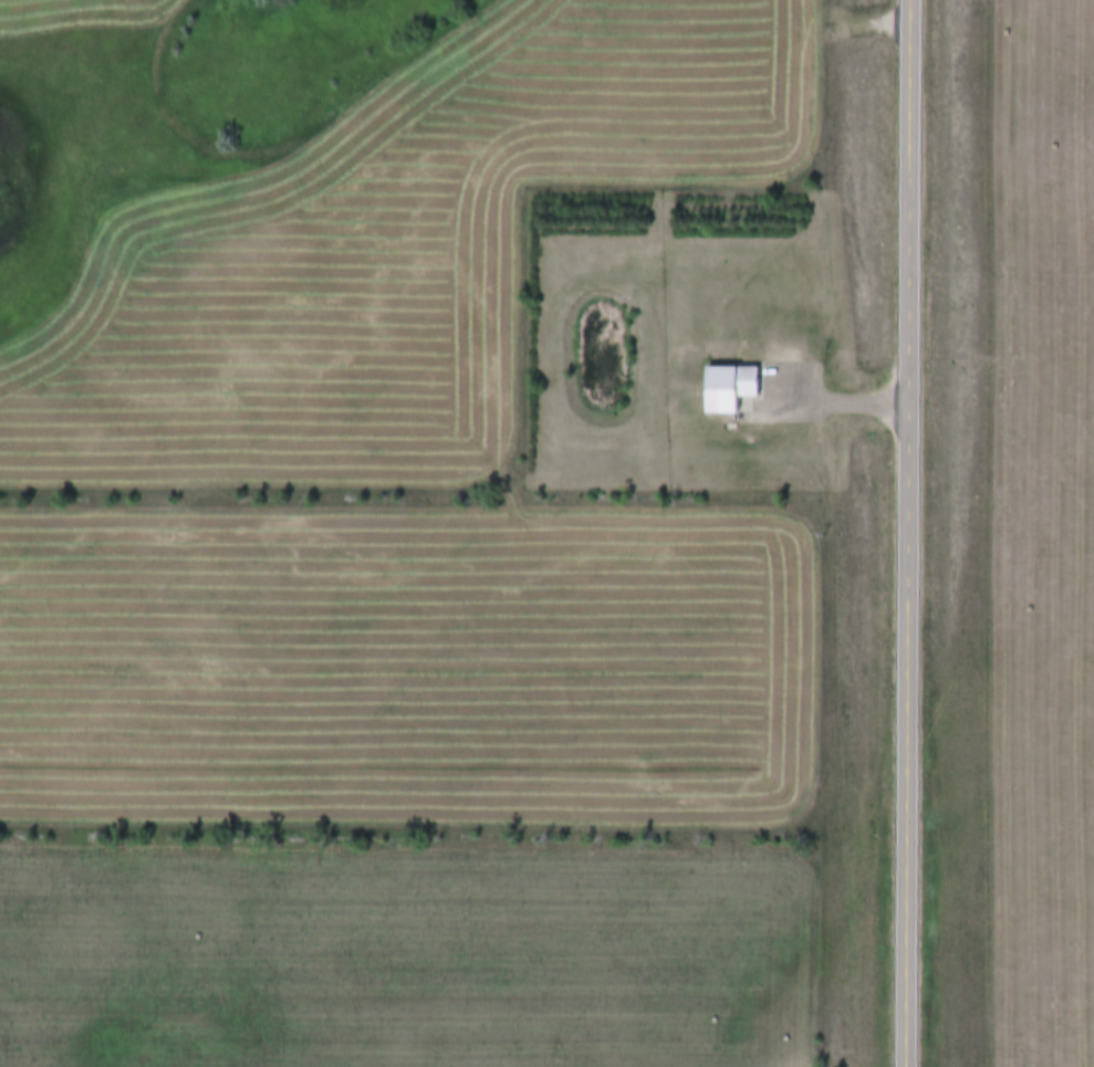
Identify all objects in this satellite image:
building: (731, 387)
road: (835, 406)
road: (910, 533)

